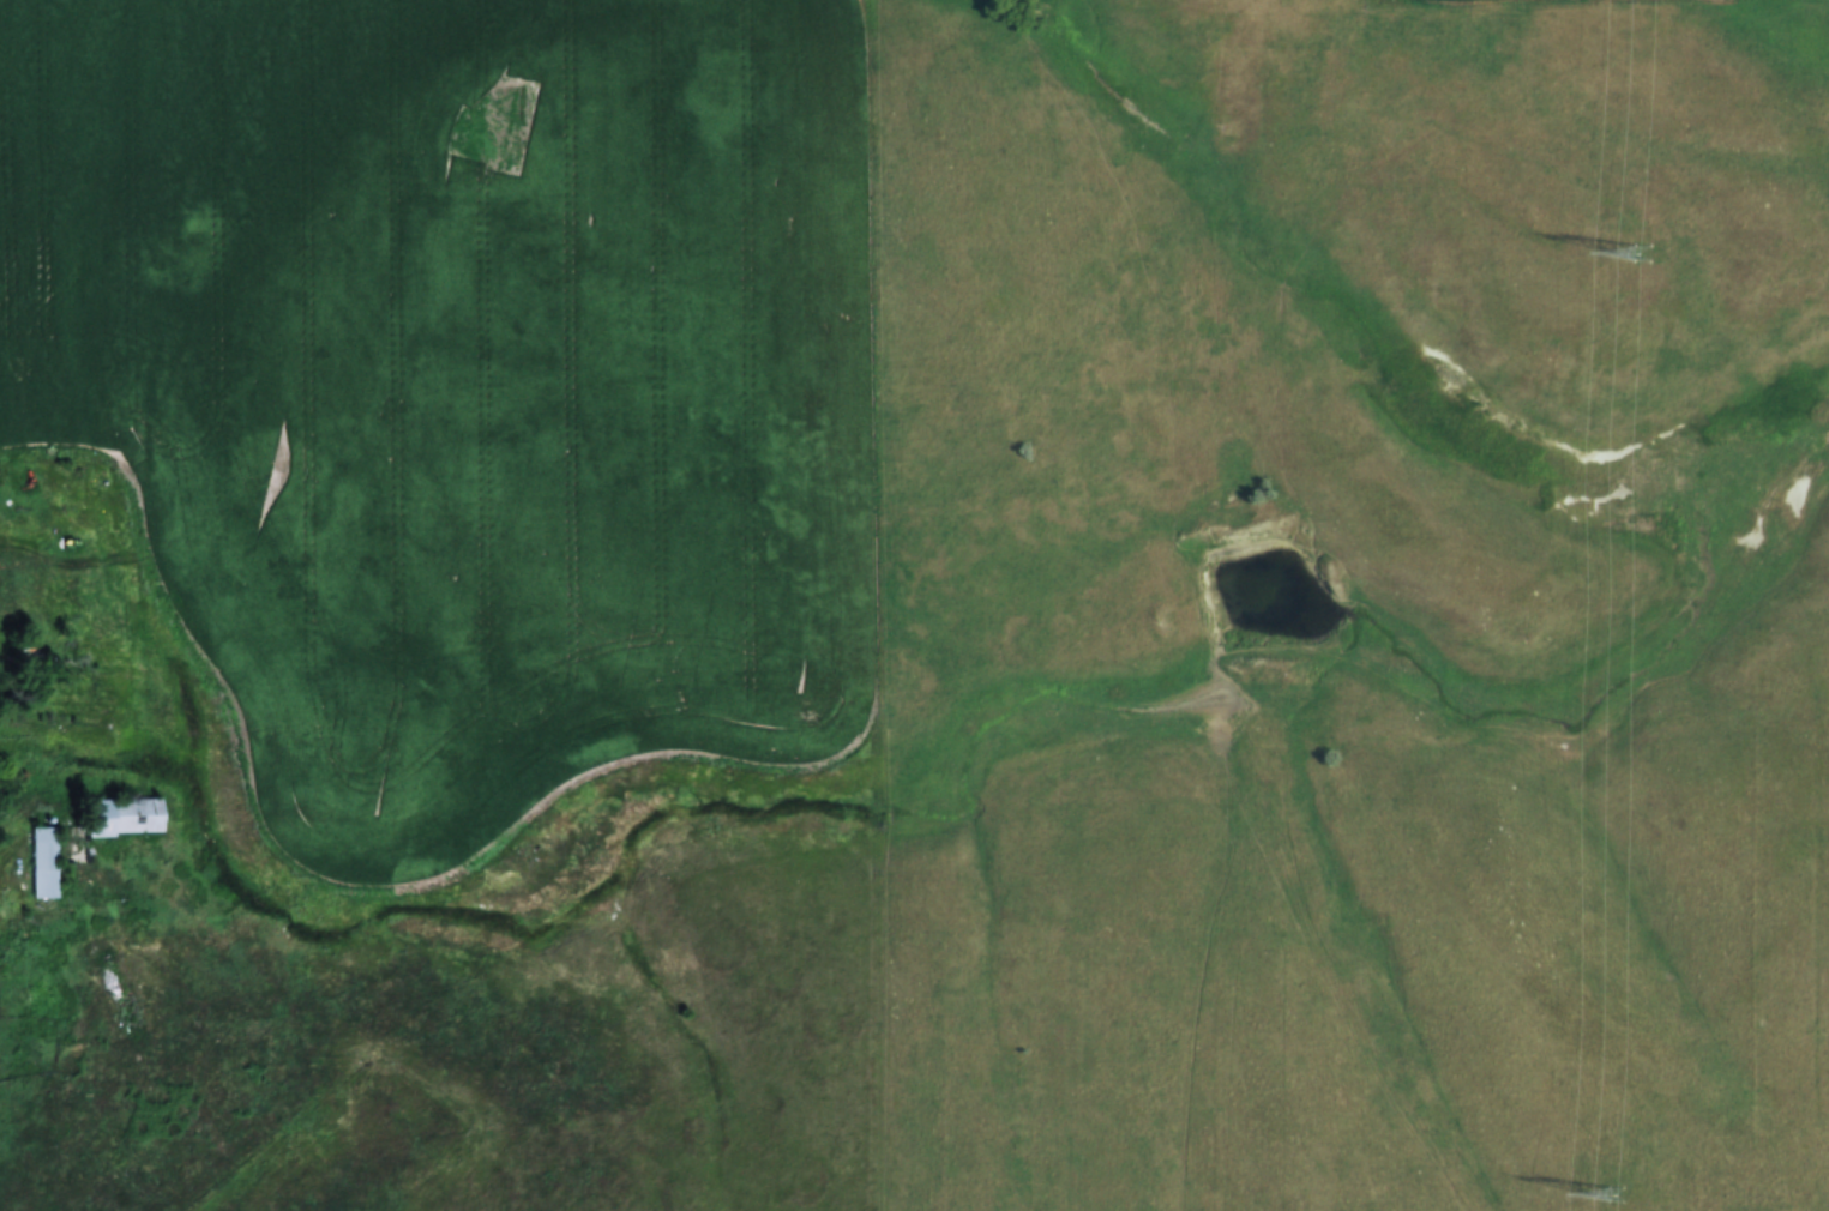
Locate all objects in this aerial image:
power tower: (1640, 252)
building: (121, 815)
building: (47, 860)
power tower: (1611, 1192)

